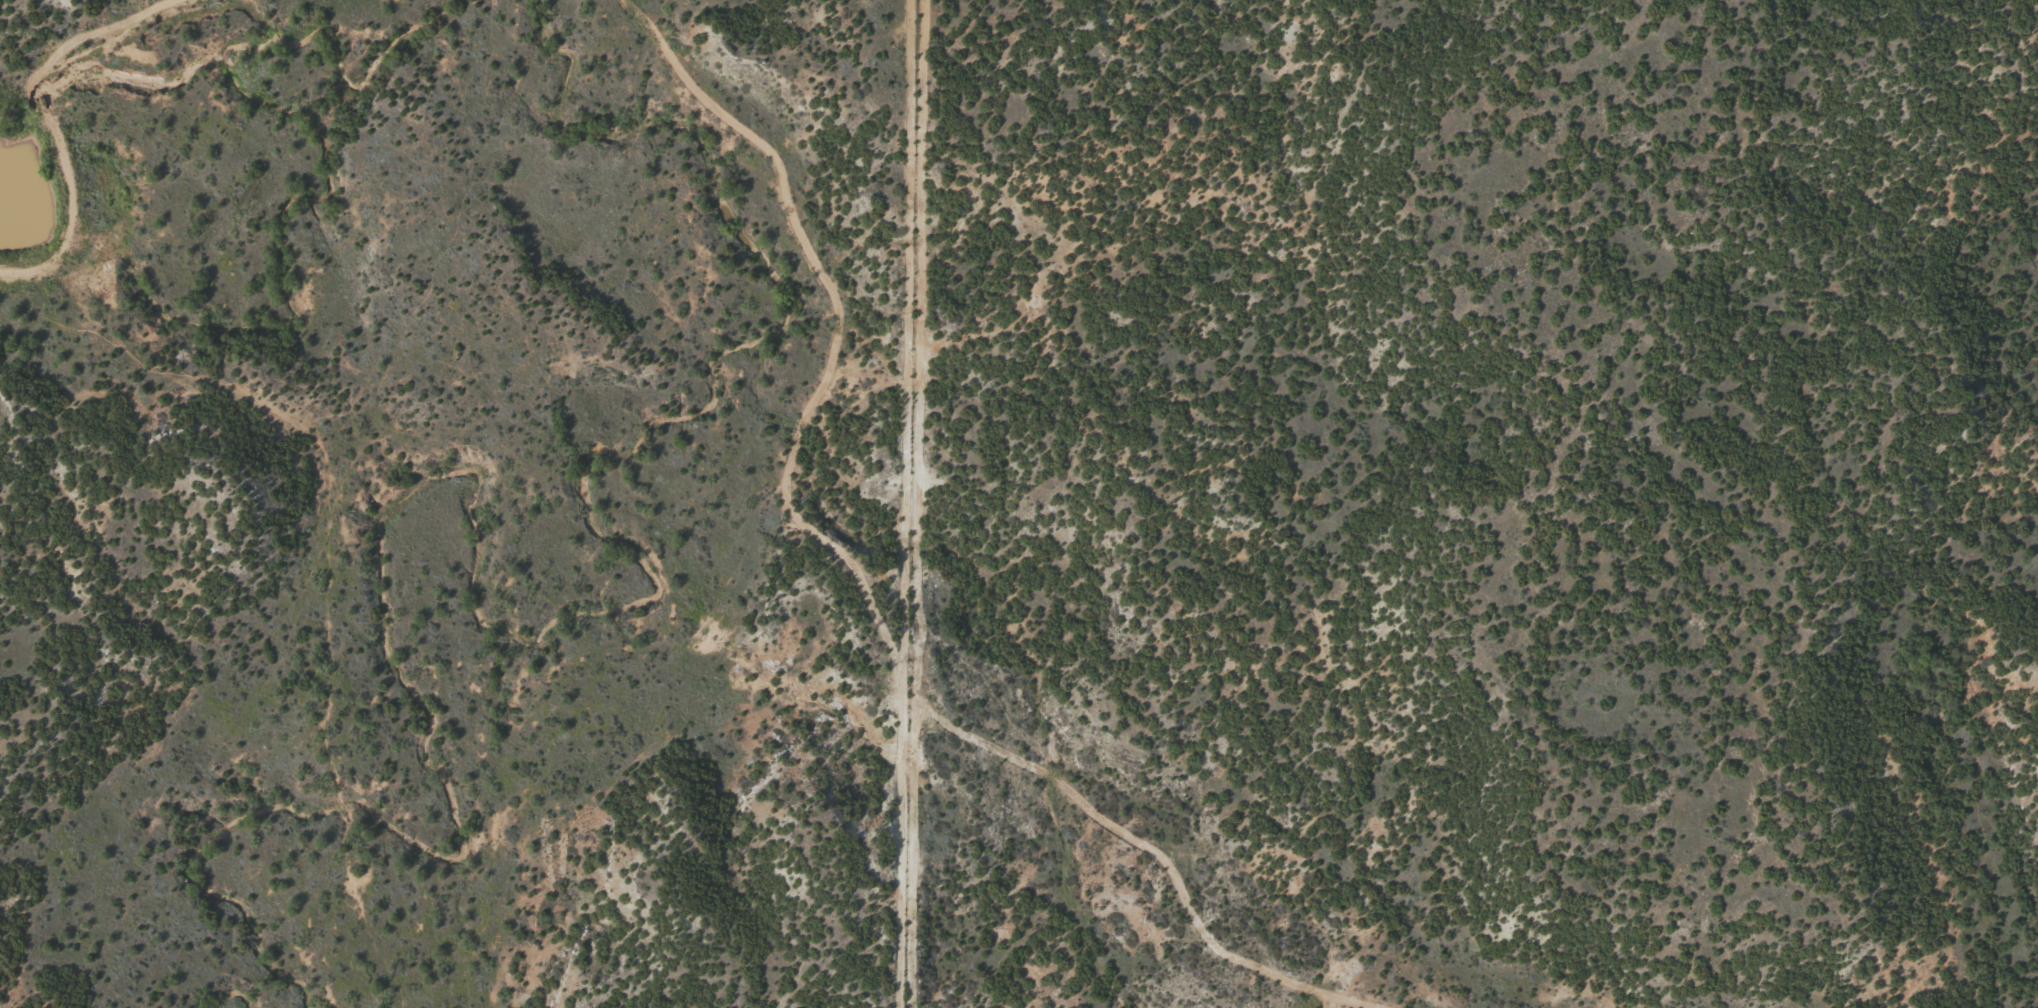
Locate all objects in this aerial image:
road: (87, 33)
road: (780, 660)

